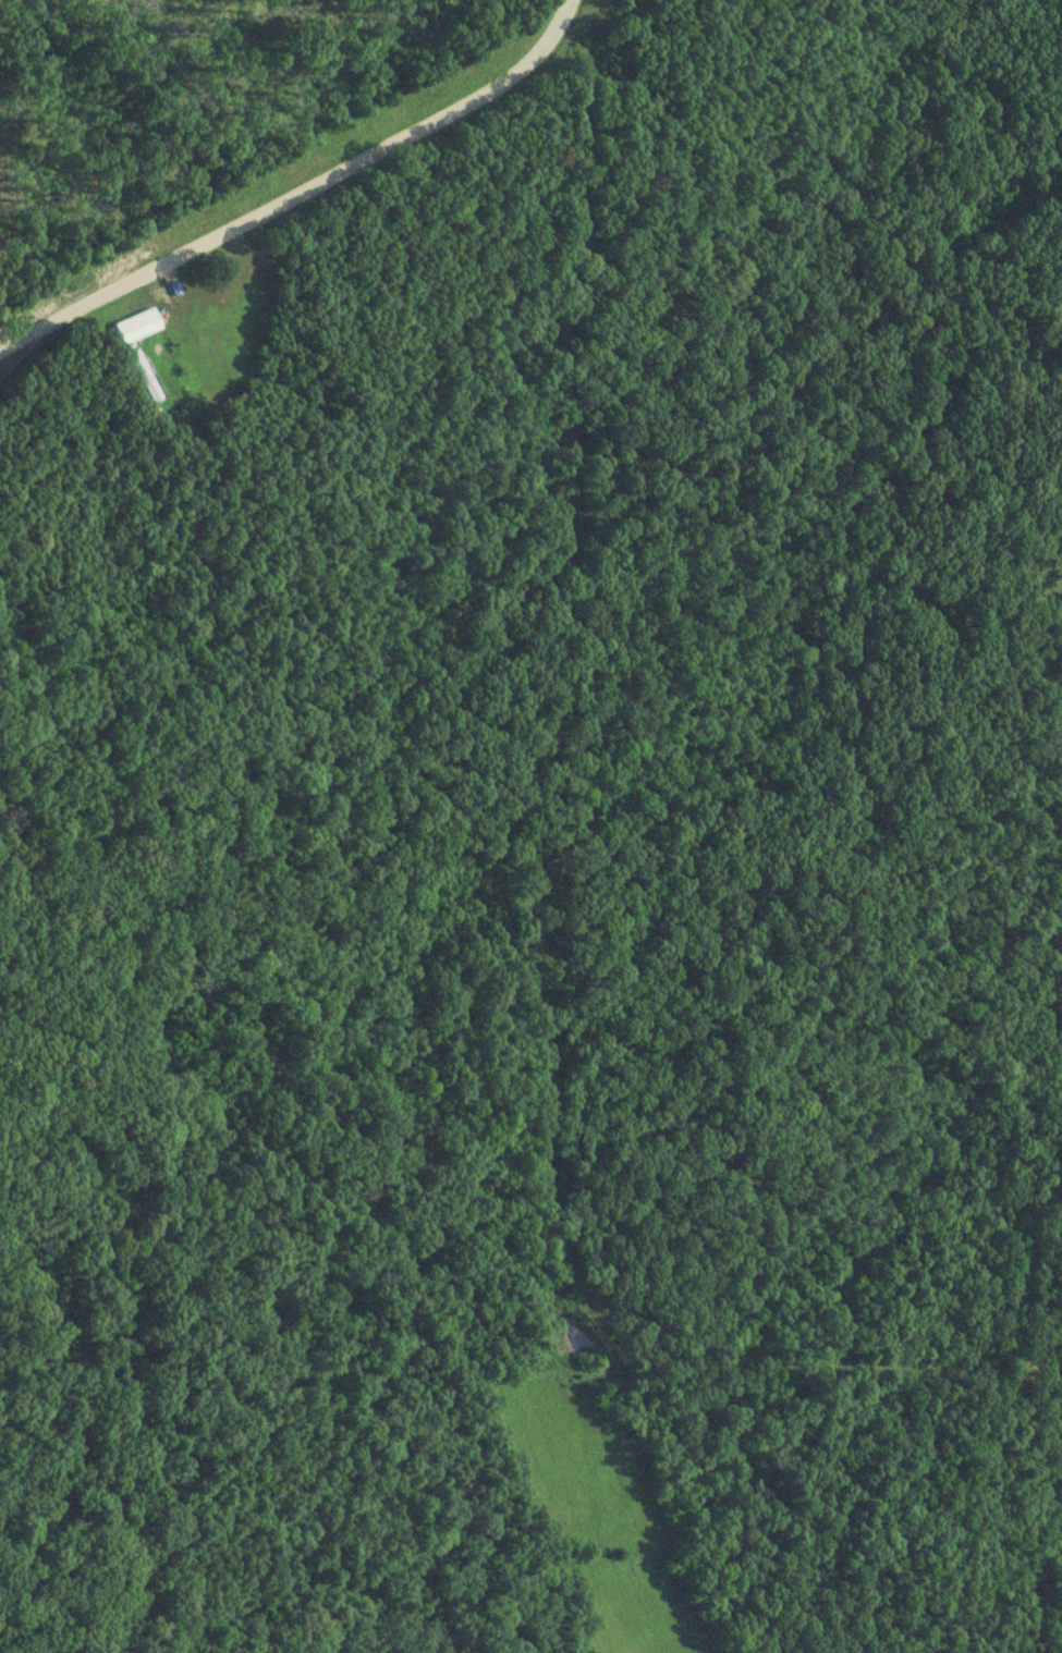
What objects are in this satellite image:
road: (298, 189)
building: (142, 327)
building: (148, 377)

